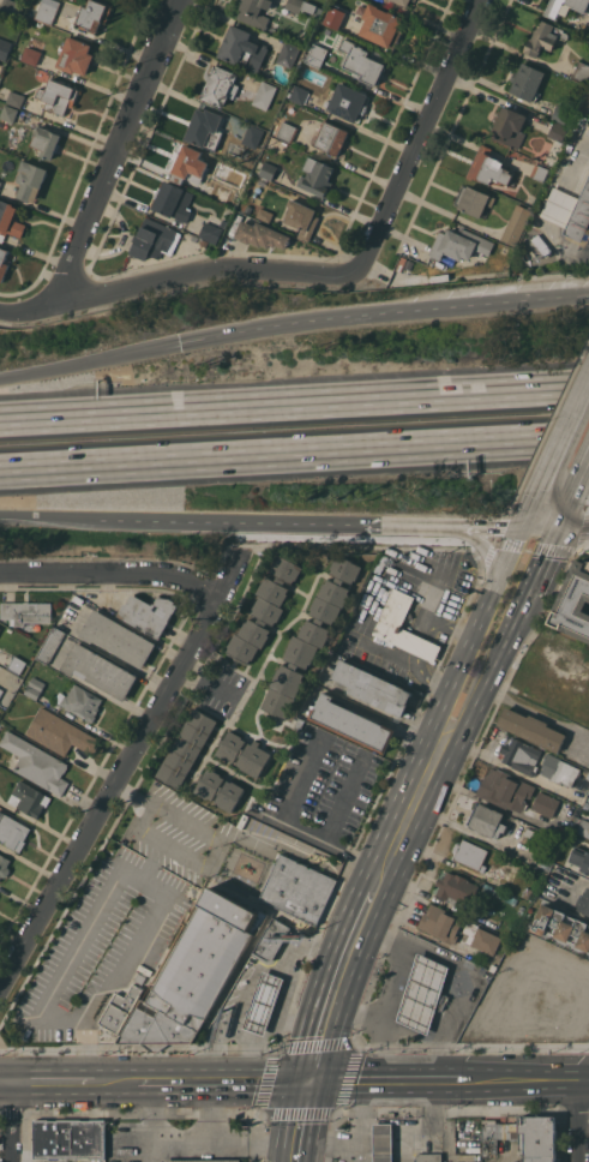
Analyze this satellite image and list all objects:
building: (414, 0)
building: (302, 6)
building: (397, 6)
building: (11, 7)
building: (565, 7)
building: (55, 11)
building: (32, 12)
building: (254, 12)
building: (94, 14)
building: (333, 16)
building: (381, 26)
building: (545, 37)
building: (4, 48)
building: (242, 49)
building: (288, 54)
building: (31, 55)
building: (76, 55)
building: (315, 56)
building: (361, 61)
building: (581, 72)
building: (527, 82)
building: (220, 85)
building: (264, 94)
building: (299, 94)
building: (56, 96)
building: (16, 98)
building: (348, 102)
building: (8, 113)
building: (560, 113)
building: (509, 126)
building: (205, 128)
building: (287, 131)
building: (558, 131)
building: (331, 137)
road: (419, 137)
building: (46, 140)
building: (254, 143)
road: (126, 148)
building: (188, 164)
building: (487, 167)
building: (268, 170)
building: (537, 172)
building: (317, 176)
building: (30, 180)
building: (0, 182)
building: (226, 194)
building: (173, 200)
building: (473, 200)
building: (569, 211)
building: (264, 215)
building: (301, 217)
building: (8, 221)
building: (515, 227)
building: (212, 228)
building: (262, 234)
building: (152, 239)
building: (204, 242)
building: (459, 244)
building: (542, 245)
building: (2, 263)
road: (175, 274)
road: (383, 311)
traffic signals: (179, 343)
road: (89, 361)
road: (294, 402)
road: (294, 454)
road: (576, 459)
road: (553, 510)
road: (49, 516)
road: (274, 521)
road: (495, 529)
road: (565, 529)
road: (582, 531)
traffic signals: (543, 533)
road: (493, 539)
road: (361, 545)
road: (535, 546)
road: (583, 552)
building: (381, 563)
road: (528, 564)
road: (112, 573)
road: (489, 585)
building: (77, 599)
building: (575, 601)
building: (264, 610)
building: (395, 611)
building: (26, 612)
building: (149, 613)
road: (505, 613)
building: (118, 637)
building: (309, 637)
building: (50, 645)
road: (489, 646)
building: (17, 664)
building: (98, 670)
road: (206, 679)
building: (34, 688)
building: (372, 688)
building: (1, 691)
building: (80, 701)
road: (530, 709)
building: (351, 723)
building: (531, 729)
building: (60, 732)
road: (587, 747)
building: (187, 748)
building: (244, 753)
building: (519, 755)
building: (36, 763)
building: (559, 769)
road: (119, 773)
road: (428, 775)
building: (588, 775)
building: (220, 790)
building: (504, 790)
road: (347, 795)
building: (28, 798)
building: (545, 803)
building: (585, 805)
road: (294, 819)
building: (486, 820)
building: (583, 827)
building: (13, 832)
road: (221, 841)
building: (470, 853)
building: (581, 858)
building: (4, 865)
road: (146, 876)
road: (582, 879)
building: (297, 888)
building: (456, 888)
building: (527, 892)
building: (583, 902)
building: (521, 910)
building: (440, 923)
building: (561, 926)
building: (271, 940)
building: (486, 941)
building: (194, 972)
road: (469, 972)
building: (139, 977)
road: (342, 983)
building: (423, 993)
road: (284, 998)
building: (263, 1002)
building: (120, 1008)
road: (384, 1008)
road: (359, 1010)
traffic signals: (311, 1079)
road: (390, 1079)
road: (529, 1079)
road: (224, 1080)
road: (7, 1083)
road: (54, 1083)
road: (116, 1083)
road: (210, 1112)
road: (584, 1116)
road: (299, 1120)
road: (356, 1120)
road: (381, 1121)
road: (16, 1122)
road: (139, 1122)
building: (524, 1137)
building: (67, 1138)
road: (217, 1142)
building: (383, 1142)
building: (429, 1157)
building: (202, 1160)

